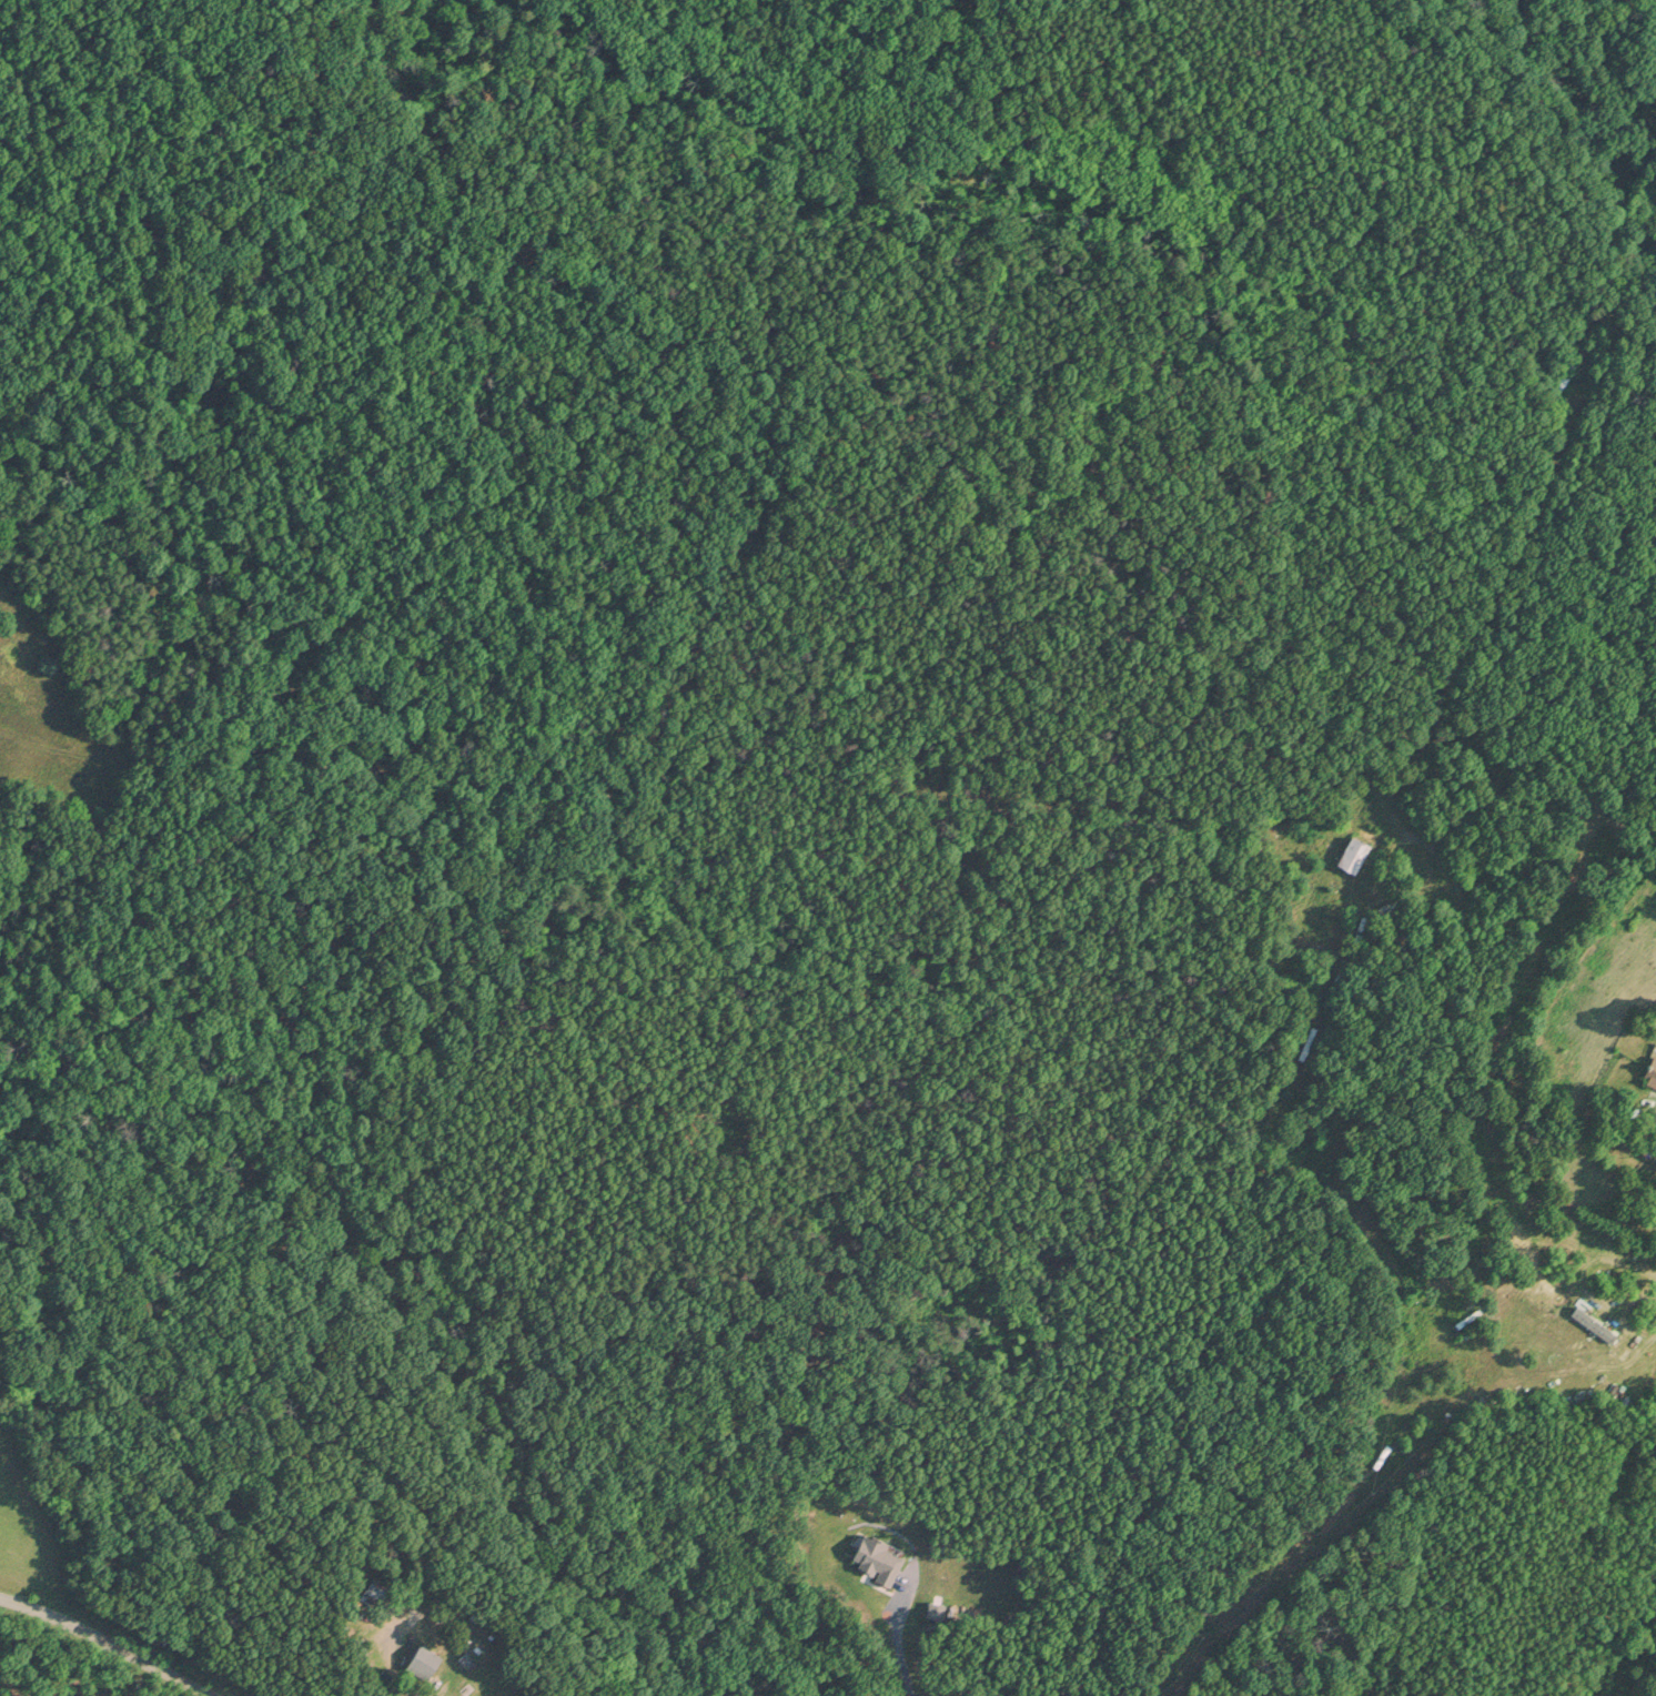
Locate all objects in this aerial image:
building: (1357, 850)
building: (1654, 1072)
road: (1481, 1084)
road: (1630, 1260)
building: (1596, 1321)
road: (897, 1639)
road: (110, 1642)
building: (425, 1655)

